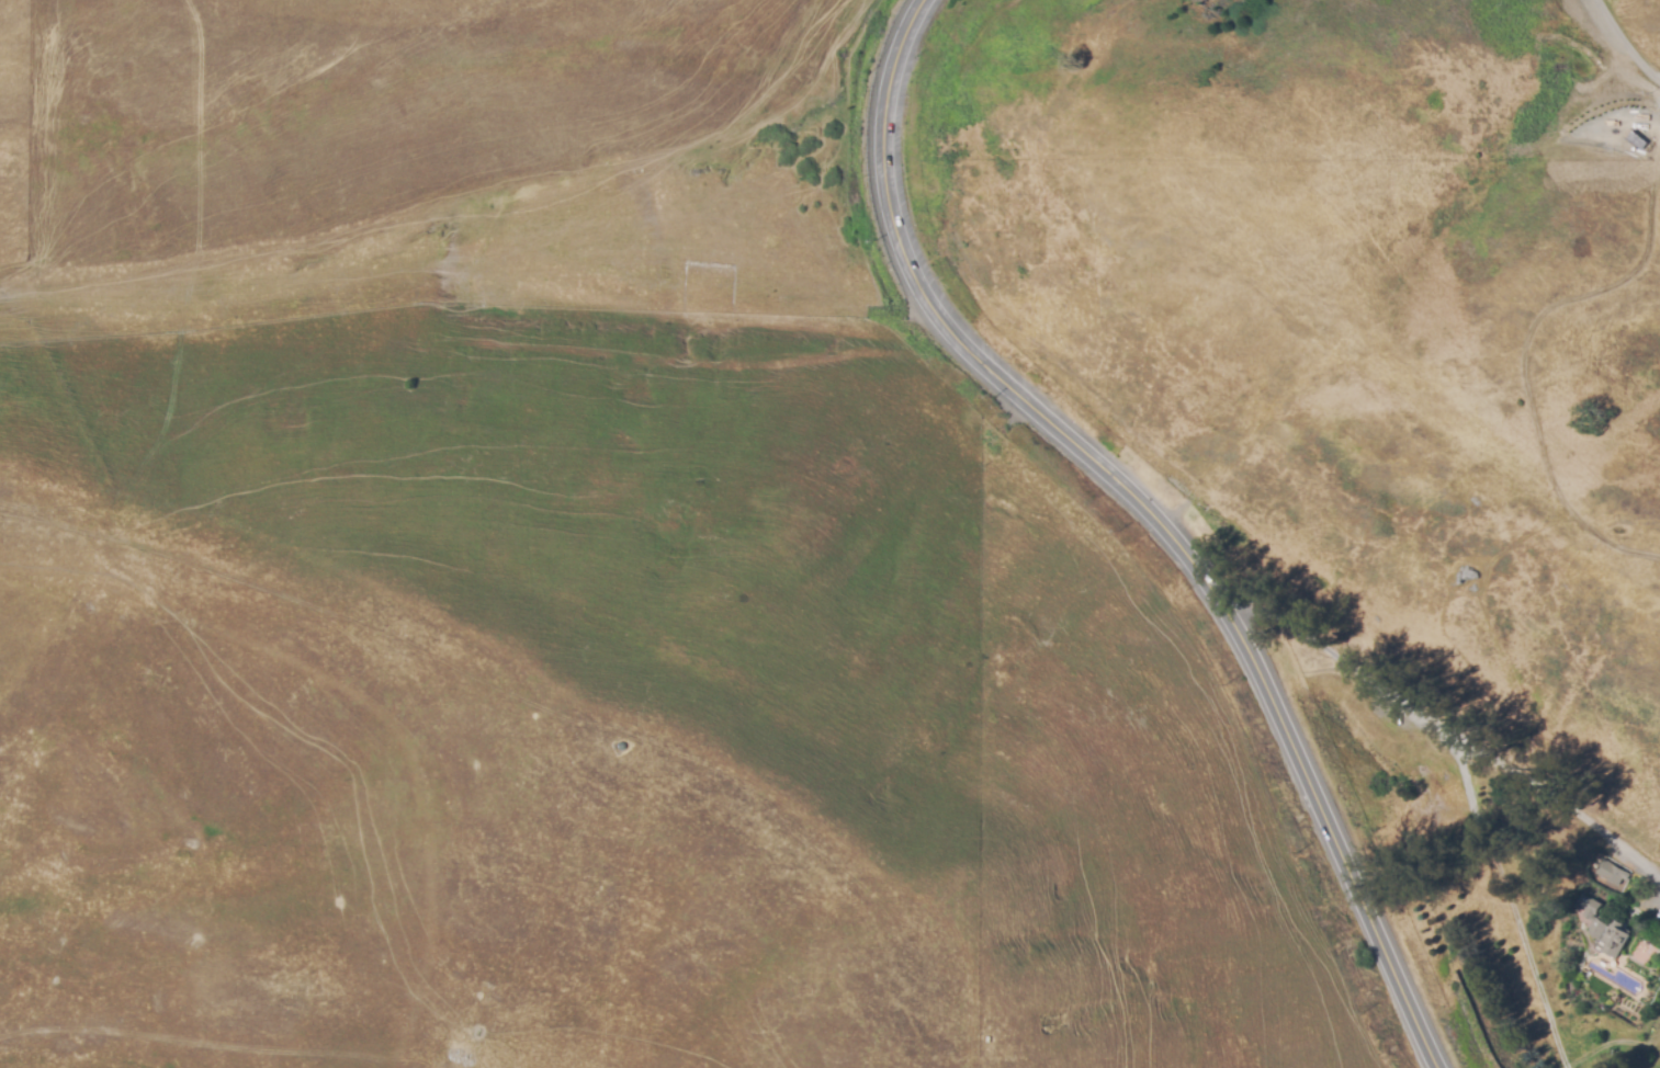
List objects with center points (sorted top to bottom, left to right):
road: (1626, 42)
building: (1639, 140)
road: (1149, 514)
road: (1443, 727)
building: (1612, 875)
road: (1509, 901)
building: (1592, 914)
building: (1610, 938)

